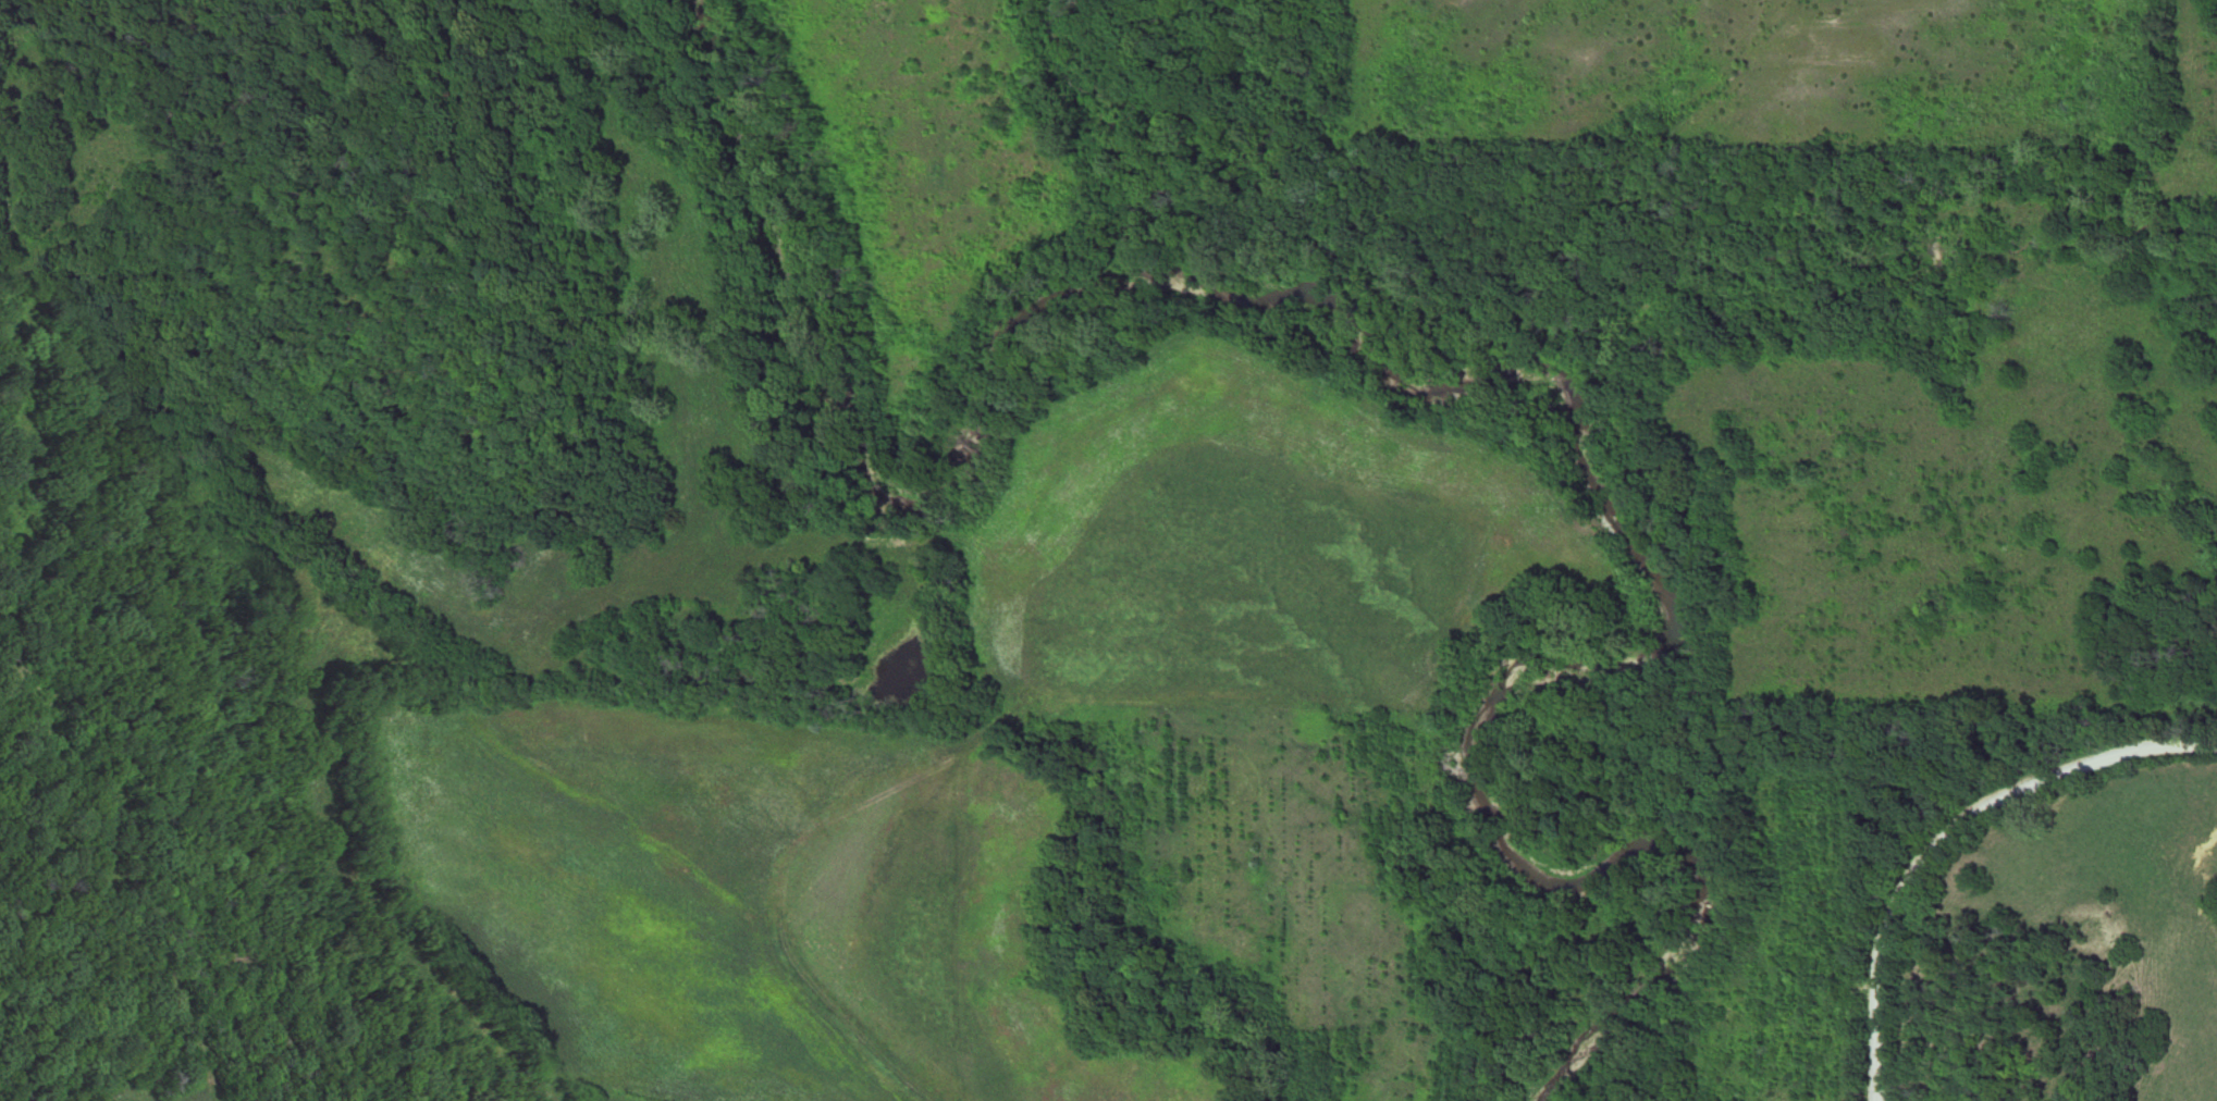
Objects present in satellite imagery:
road: (1949, 833)

